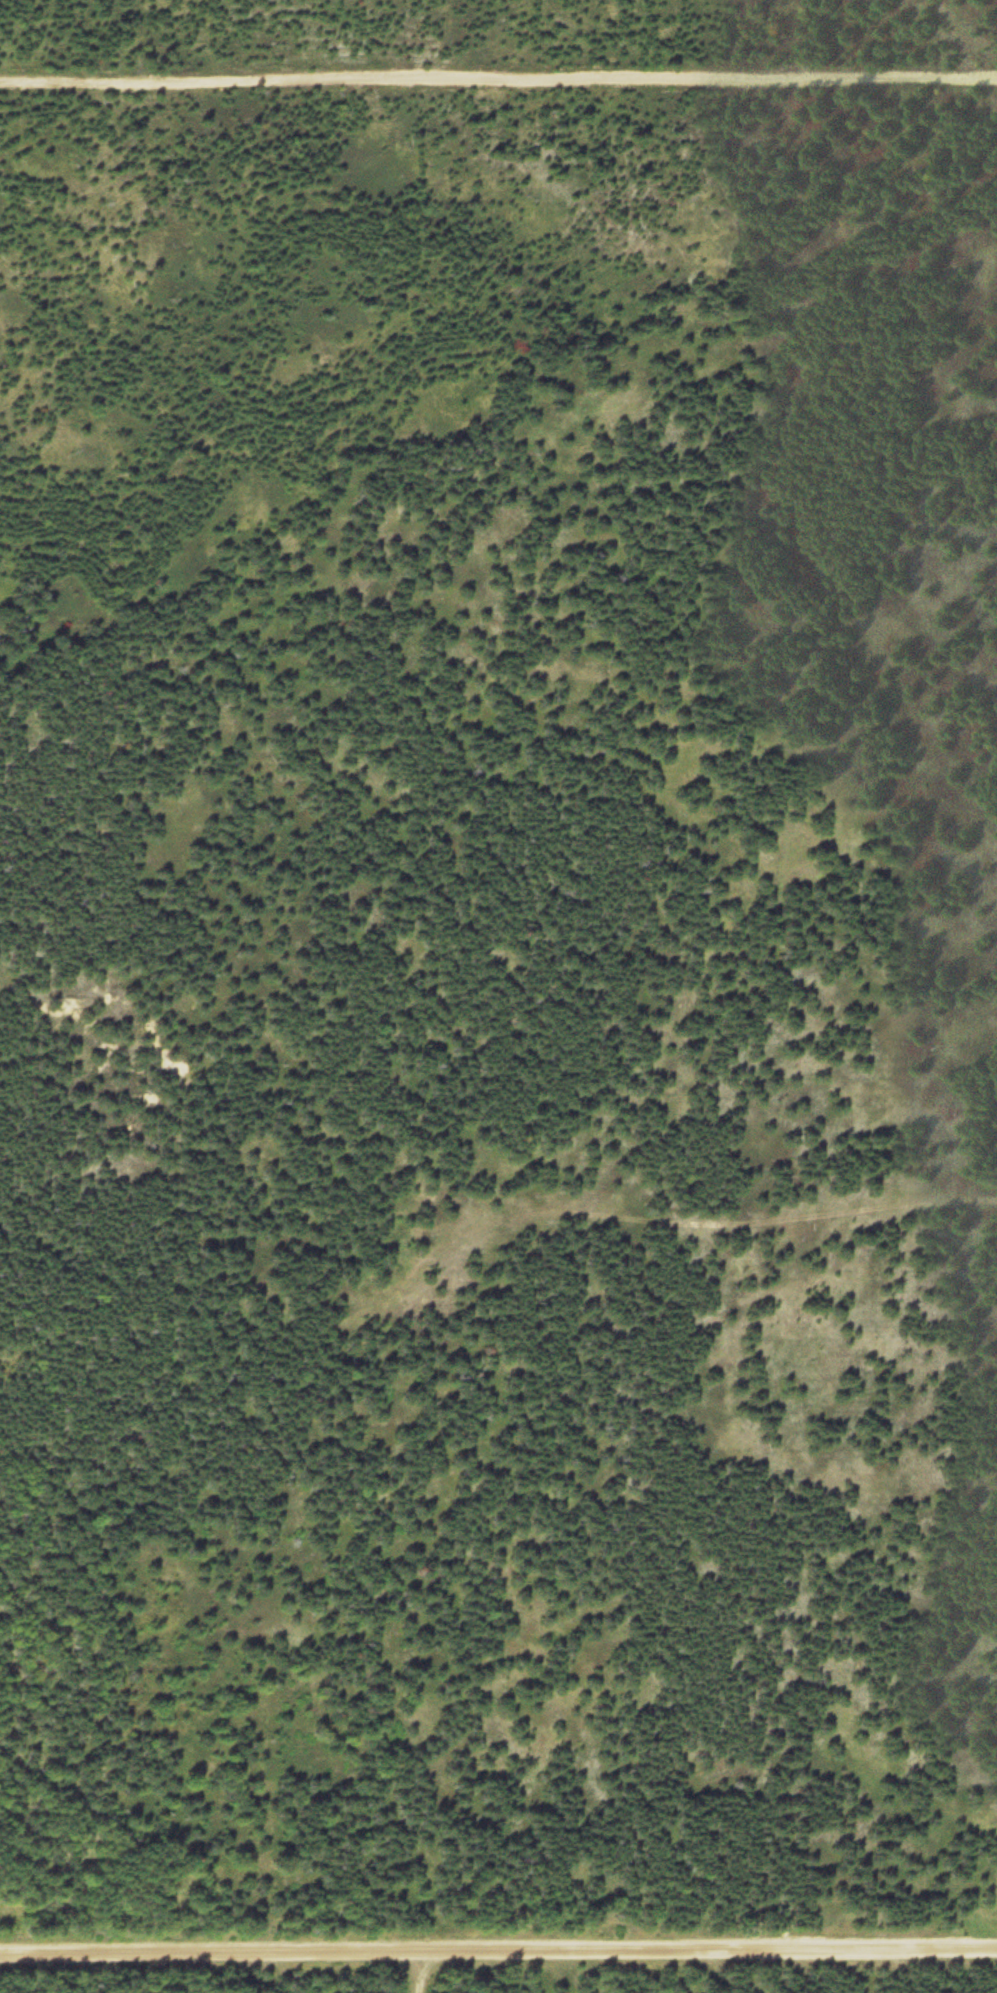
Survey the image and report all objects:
road: (498, 80)
road: (498, 1954)
road: (762, 1972)
road: (426, 1974)

